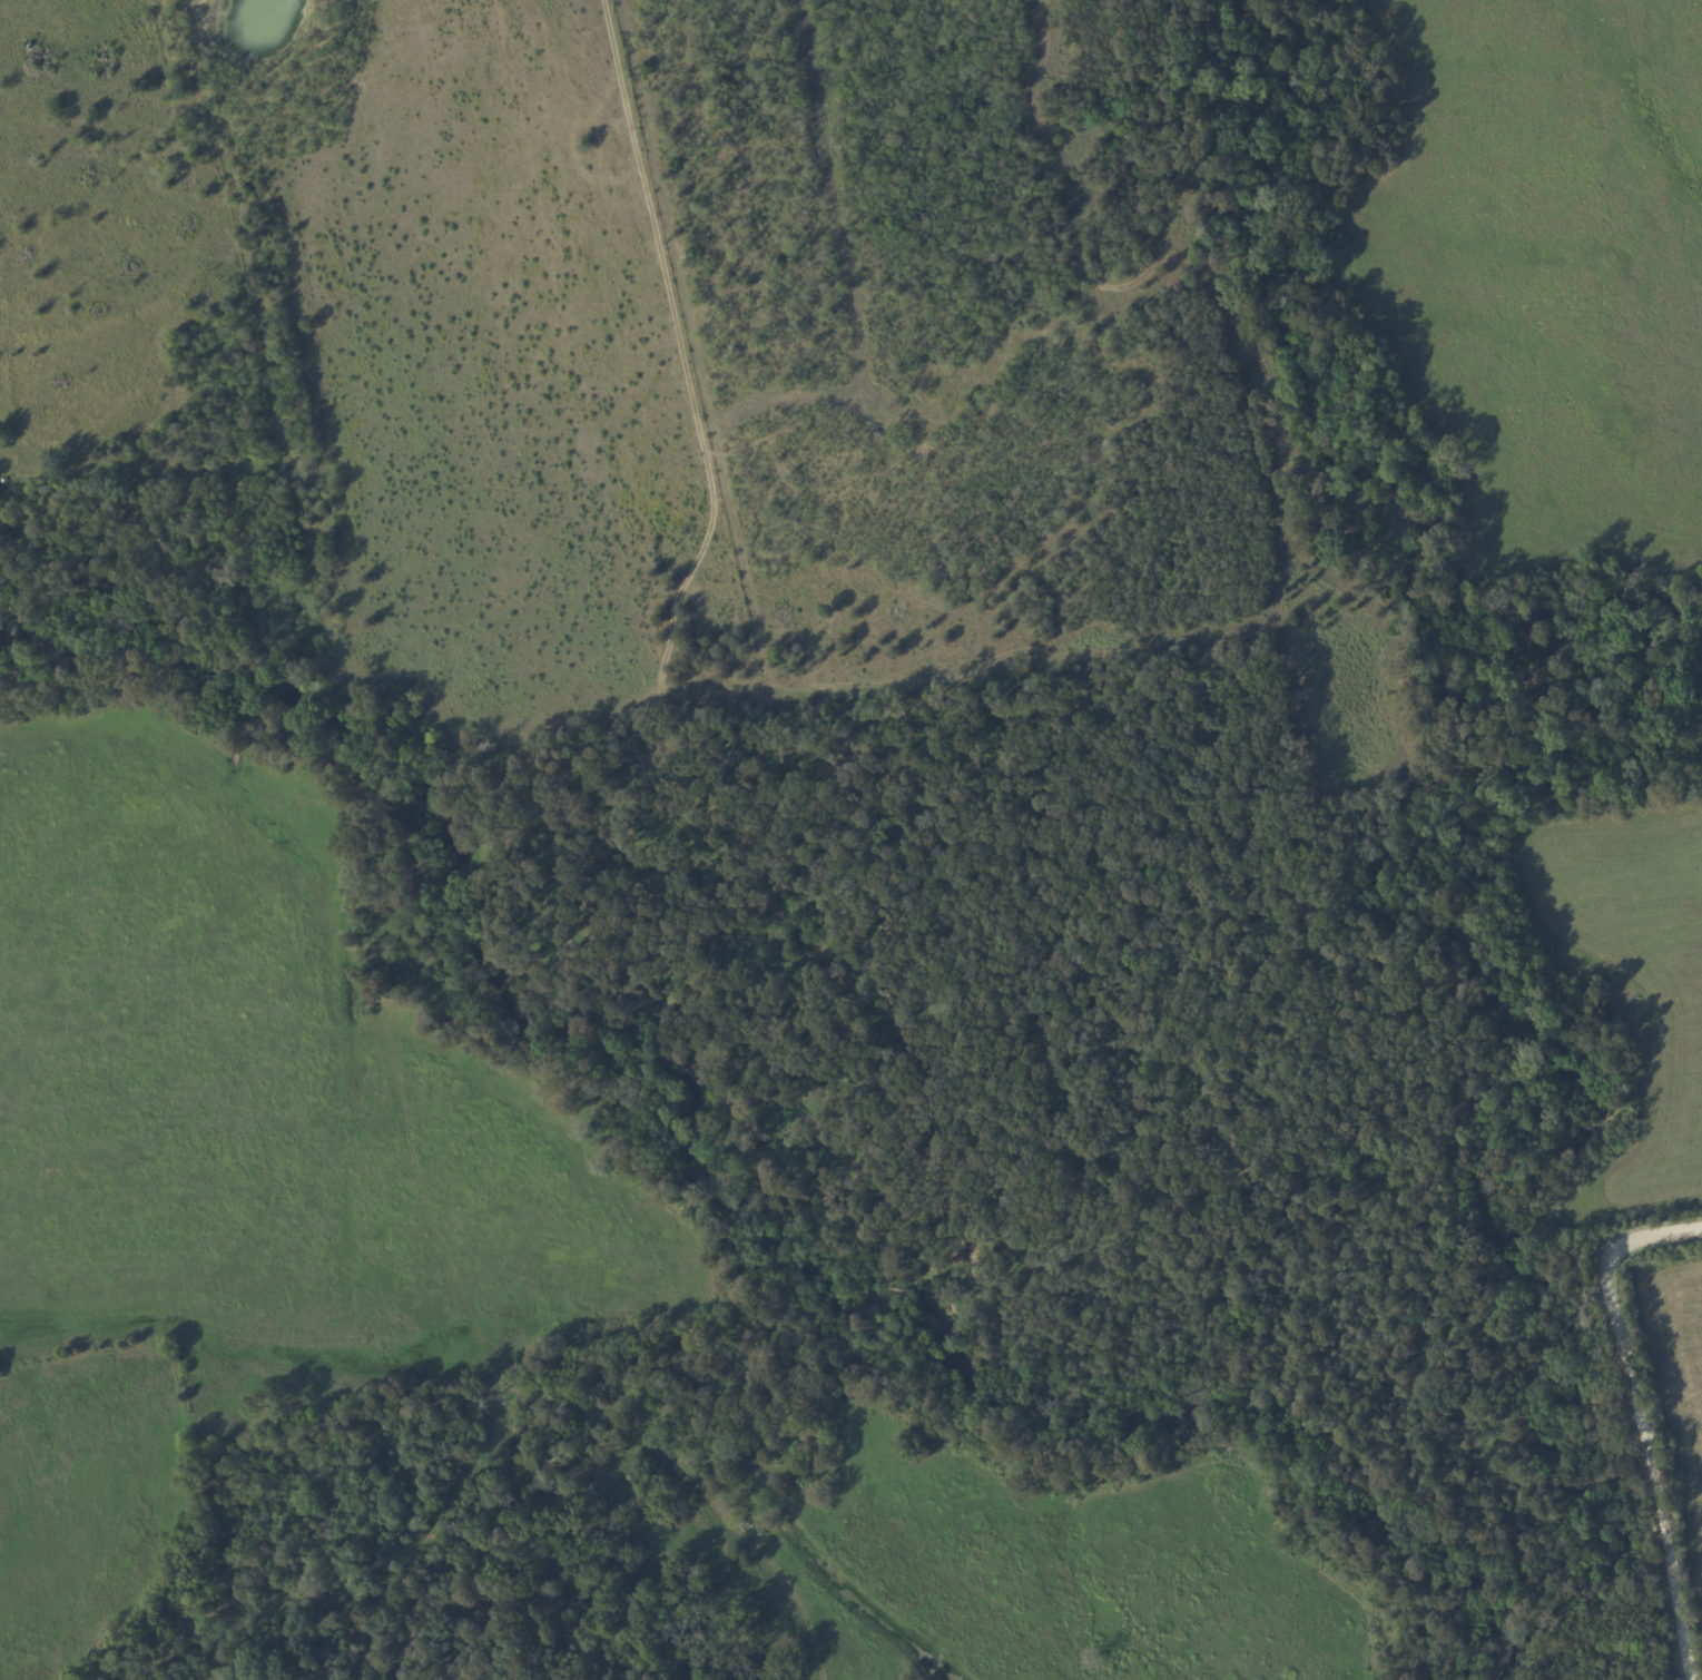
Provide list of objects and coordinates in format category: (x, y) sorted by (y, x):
road: (1637, 1419)

